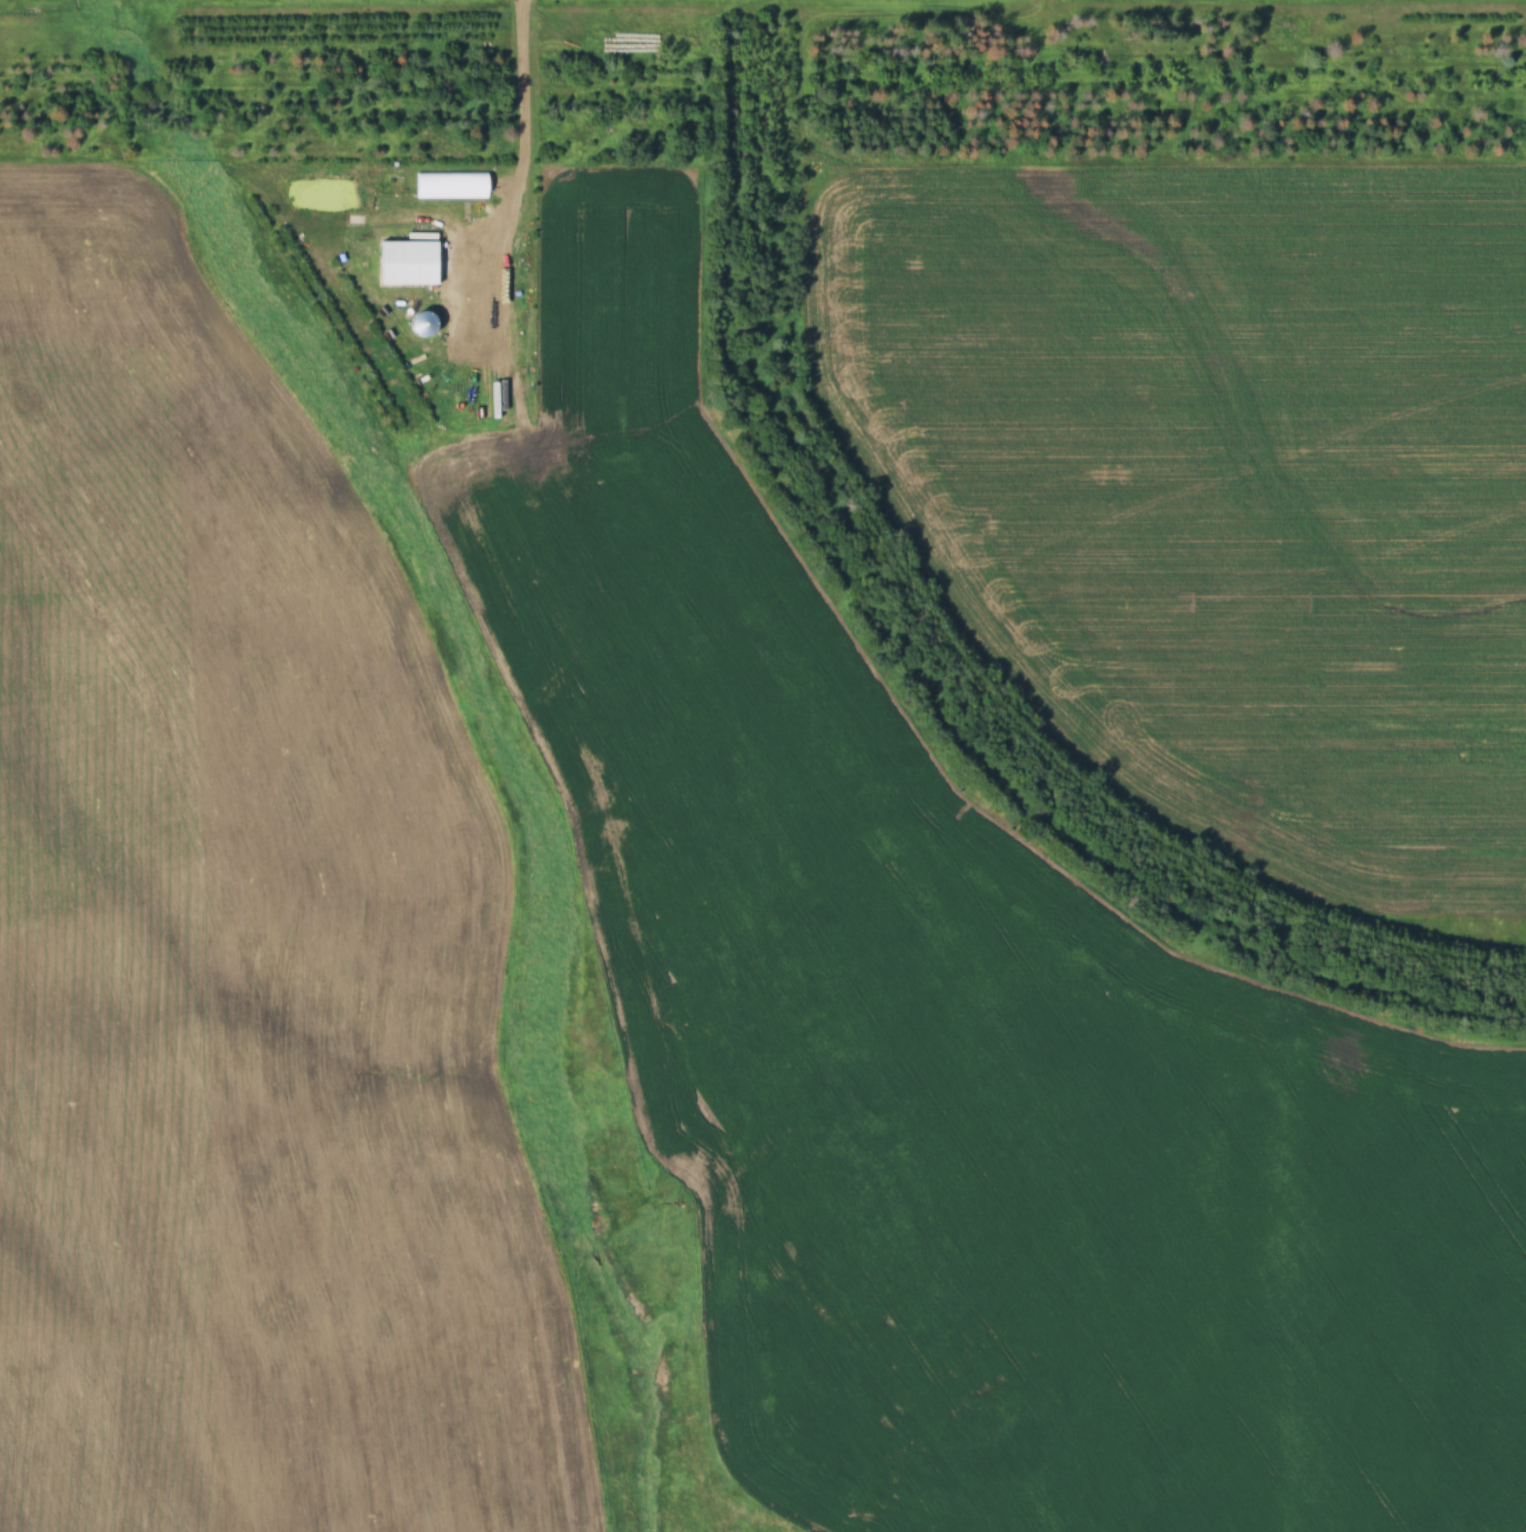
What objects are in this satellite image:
road: (523, 135)
building: (453, 185)
building: (409, 263)
building: (508, 315)
building: (484, 322)

